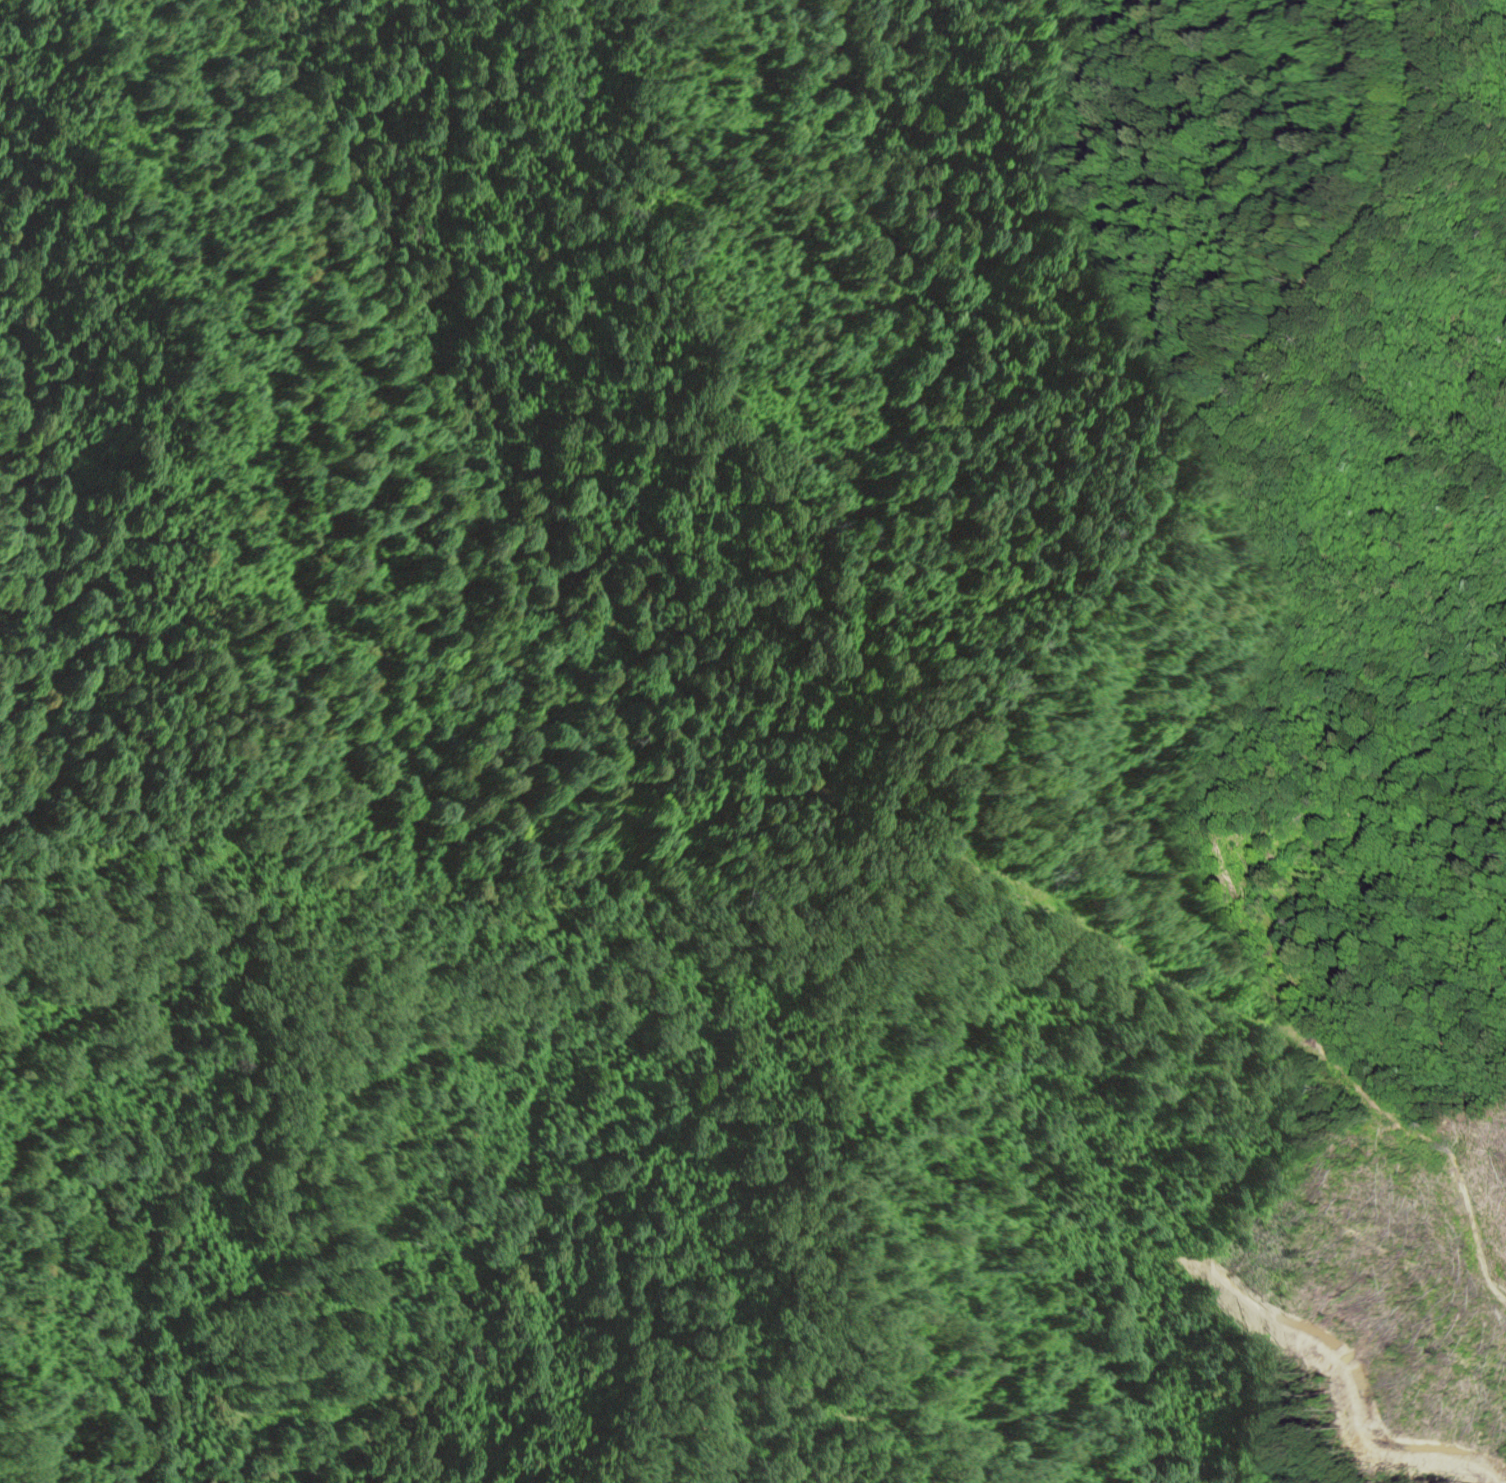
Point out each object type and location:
quarry: (1397, 1285)

